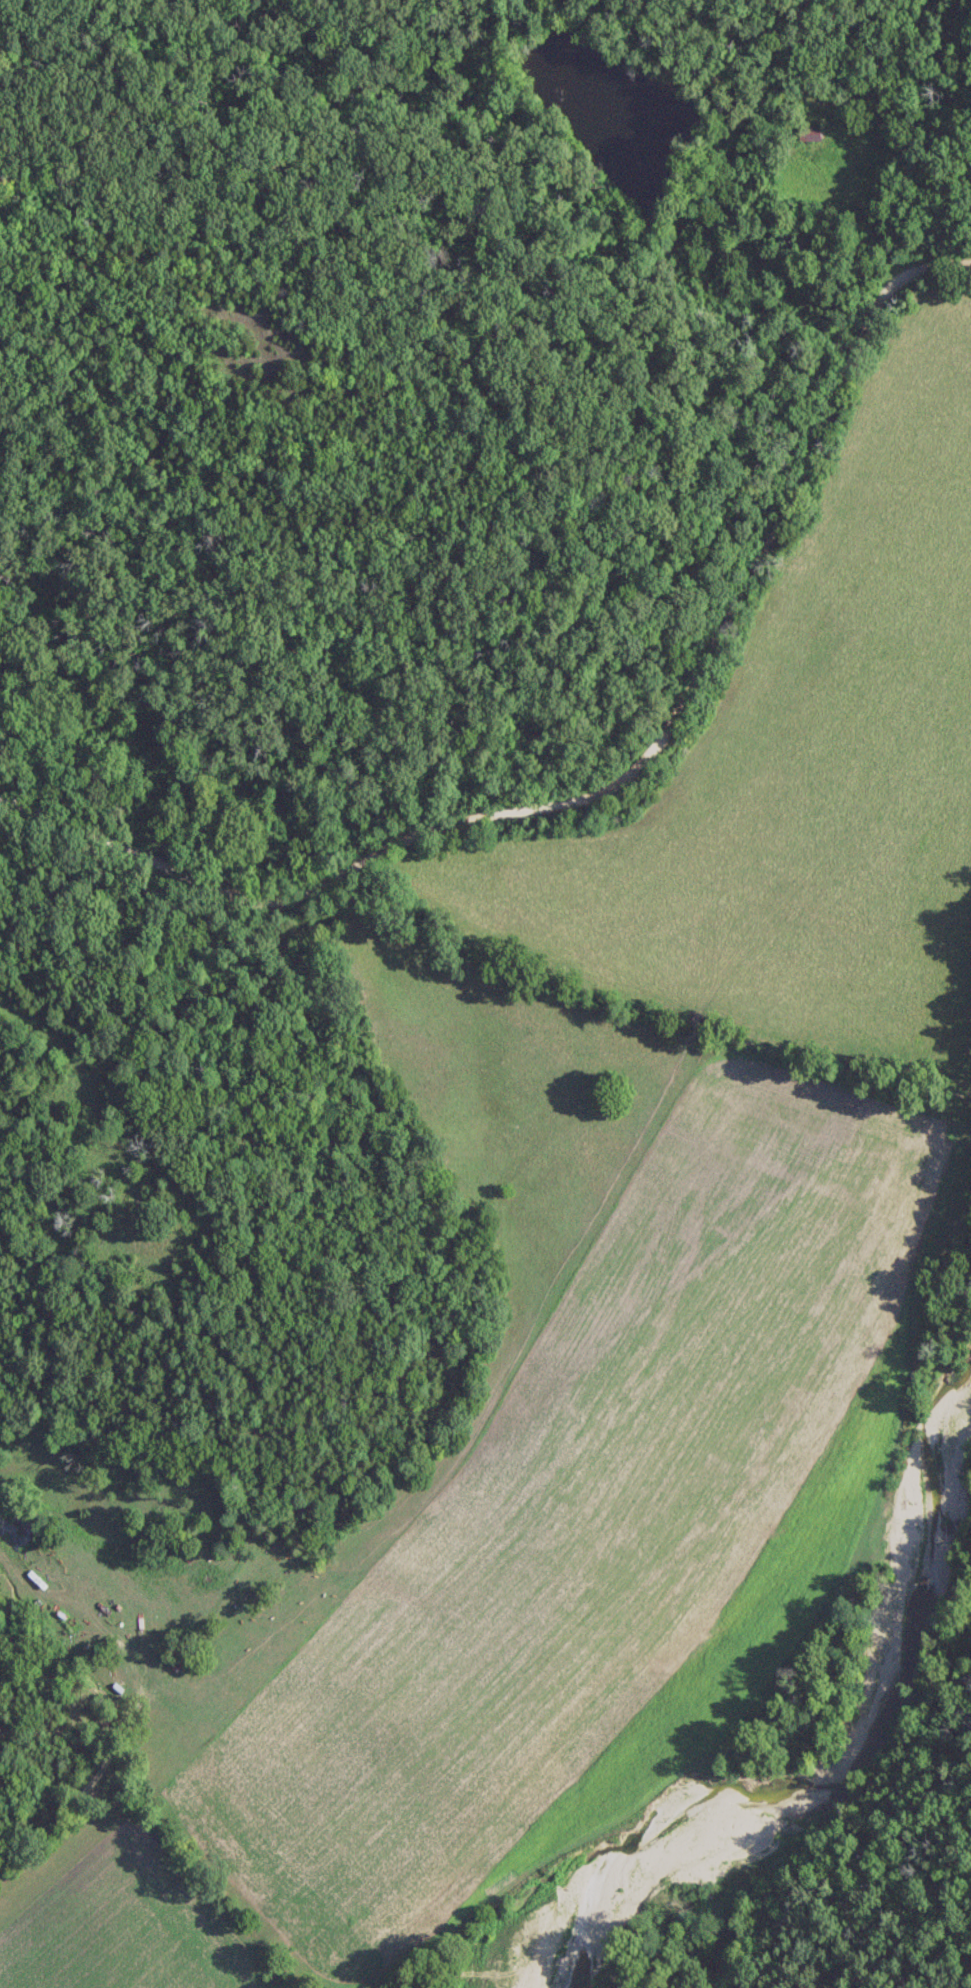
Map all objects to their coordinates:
road: (701, 671)
road: (133, 855)
building: (14, 1525)

